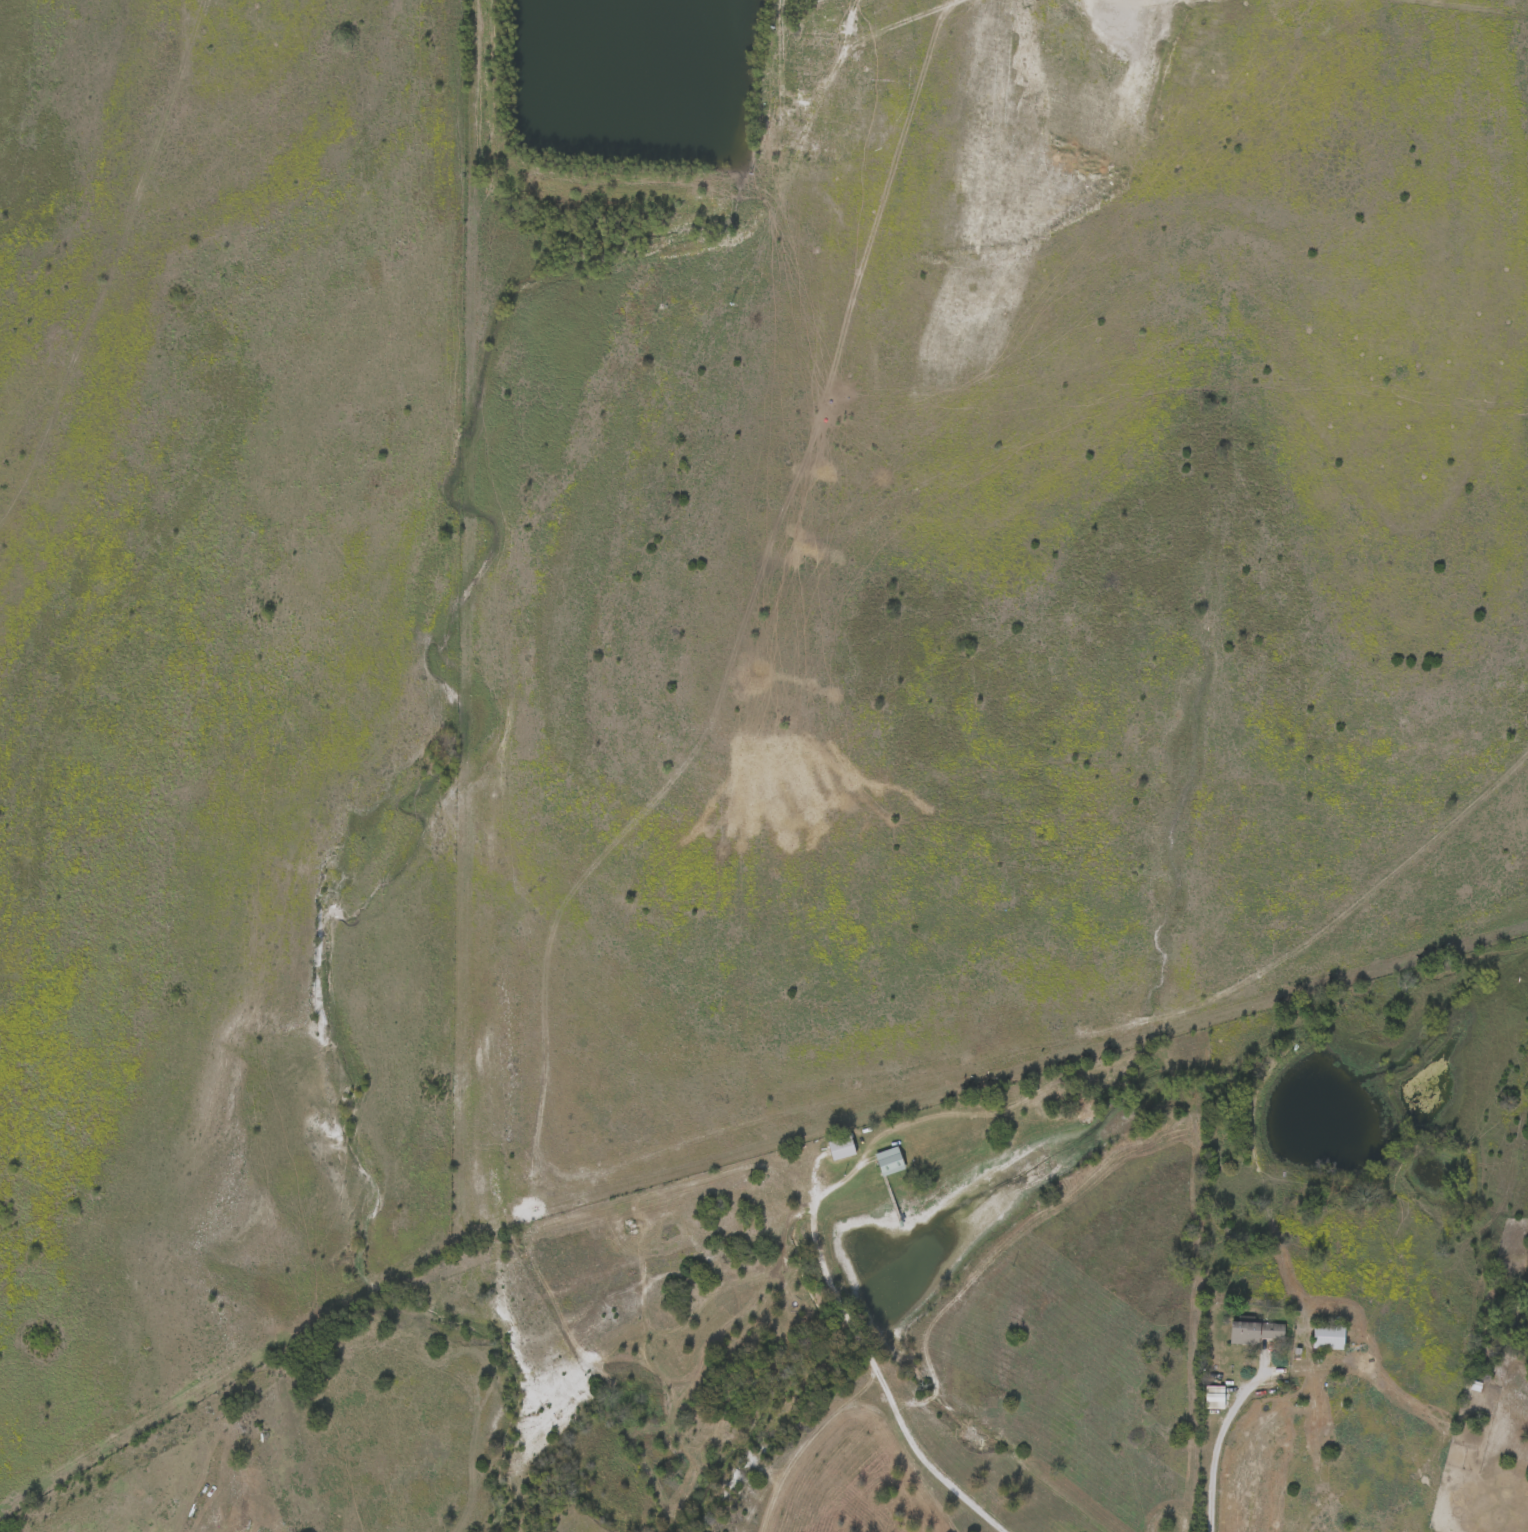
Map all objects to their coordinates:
building: (841, 1147)
building: (889, 1160)
building: (1256, 1330)
building: (1329, 1335)
road: (878, 1377)
road: (1215, 1444)

